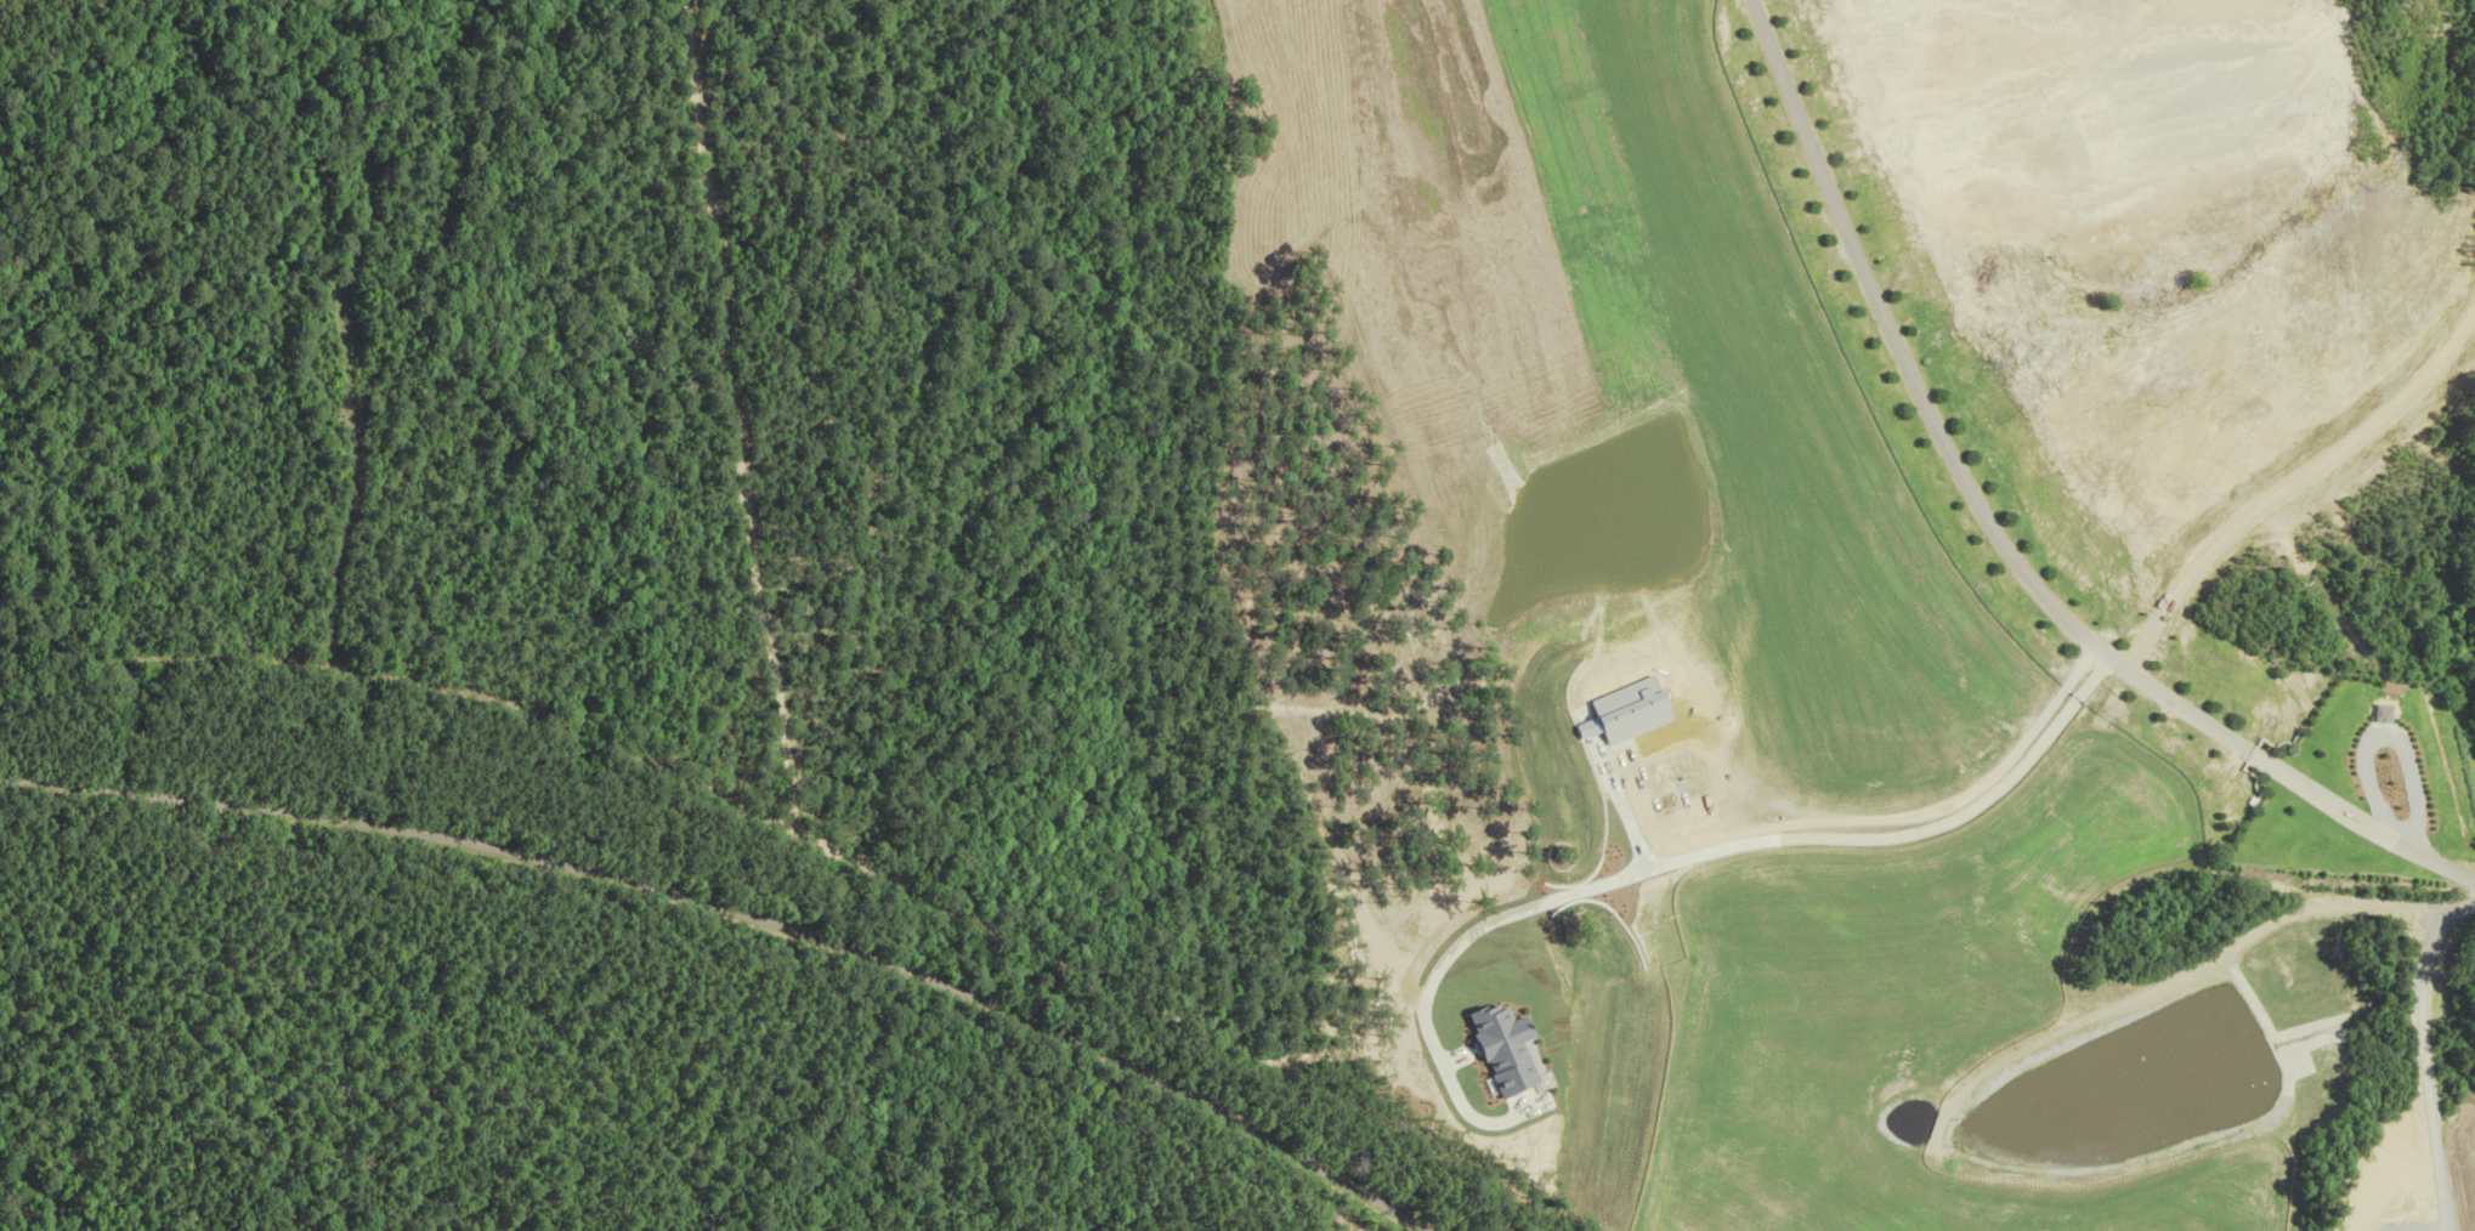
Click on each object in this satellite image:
road: (1997, 539)
road: (737, 918)
road: (2423, 1045)

